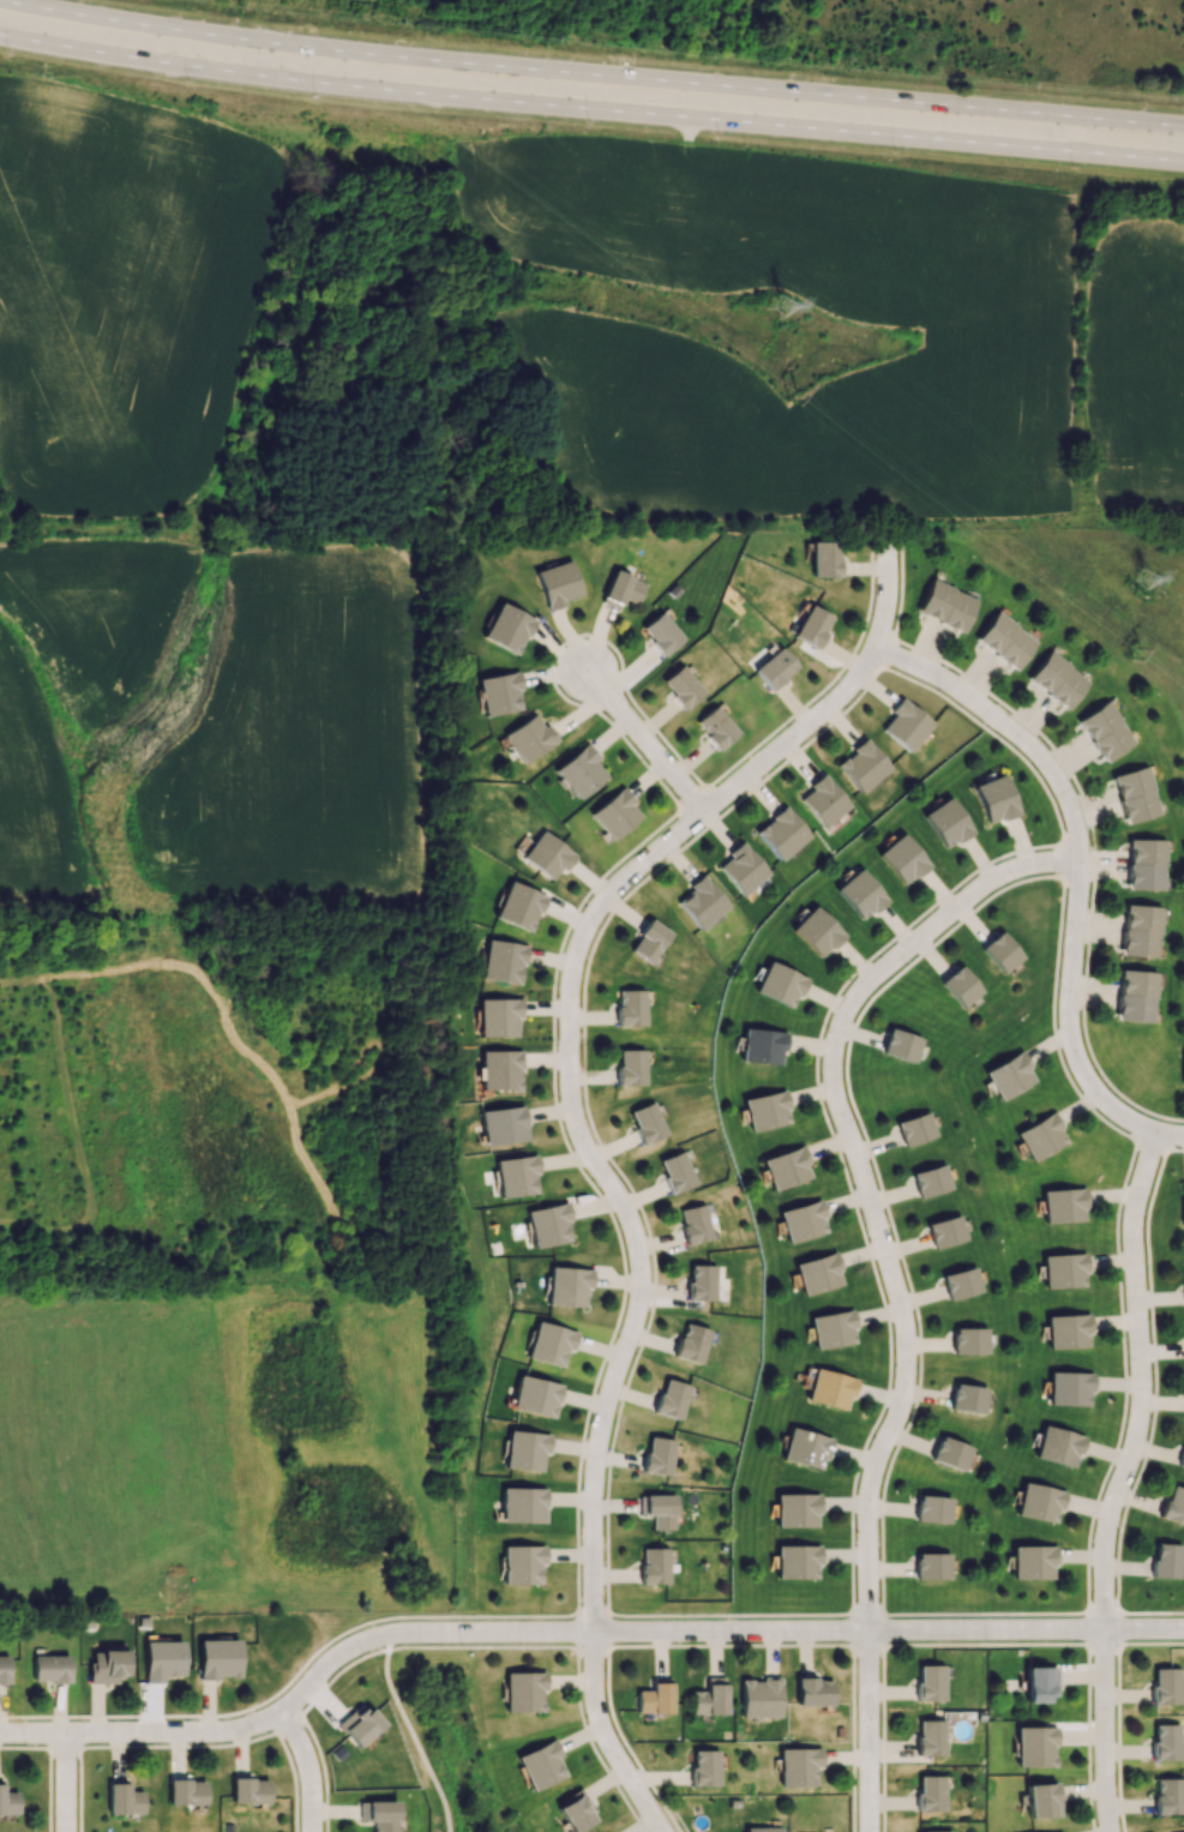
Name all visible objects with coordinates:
road: (590, 74)
road: (590, 108)
road: (686, 128)
crop: (124, 292)
power tower: (780, 305)
power tower: (792, 402)
building: (824, 559)
building: (557, 583)
power tower: (1142, 584)
building: (621, 589)
building: (946, 603)
building: (507, 626)
building: (811, 626)
building: (661, 633)
building: (1005, 639)
power tower: (1131, 660)
building: (774, 667)
building: (1060, 680)
building: (681, 686)
building: (498, 692)
crop: (209, 719)
building: (906, 725)
building: (714, 727)
building: (1107, 731)
building: (528, 738)
road: (644, 738)
building: (861, 767)
building: (578, 770)
building: (1136, 794)
building: (821, 800)
building: (994, 800)
road: (1087, 811)
building: (614, 812)
road: (719, 817)
building: (946, 823)
building: (781, 834)
building: (547, 853)
building: (902, 857)
building: (1148, 863)
building: (741, 867)
building: (859, 891)
building: (702, 901)
building: (518, 905)
building: (816, 929)
building: (1141, 931)
building: (649, 938)
building: (1000, 951)
building: (501, 960)
building: (780, 983)
building: (960, 985)
building: (1135, 996)
building: (631, 1008)
building: (498, 1015)
building: (761, 1045)
building: (901, 1045)
road: (848, 1046)
building: (630, 1067)
building: (1180, 1067)
building: (500, 1069)
building: (1008, 1075)
building: (765, 1109)
road: (558, 1121)
building: (647, 1122)
building: (503, 1124)
building: (915, 1128)
road: (1168, 1134)
building: (1039, 1135)
road: (583, 1136)
road: (1150, 1145)
road: (1174, 1148)
building: (785, 1166)
road: (1142, 1171)
building: (677, 1172)
building: (515, 1176)
building: (931, 1181)
building: (1063, 1205)
building: (1182, 1205)
building: (800, 1220)
building: (548, 1224)
building: (696, 1224)
building: (945, 1231)
building: (1063, 1271)
road: (888, 1272)
building: (816, 1273)
building: (1183, 1273)
building: (702, 1283)
building: (961, 1283)
building: (567, 1285)
building: (830, 1329)
building: (1068, 1329)
building: (969, 1339)
building: (549, 1343)
building: (692, 1344)
road: (887, 1353)
building: (1069, 1387)
building: (829, 1389)
building: (536, 1396)
building: (967, 1398)
building: (672, 1399)
road: (1153, 1413)
building: (1058, 1444)
building: (805, 1448)
building: (525, 1449)
building: (950, 1453)
building: (659, 1458)
building: (1182, 1459)
road: (1104, 1478)
building: (1039, 1502)
building: (522, 1504)
building: (1174, 1507)
building: (932, 1509)
building: (659, 1510)
building: (797, 1510)
building: (1166, 1561)
building: (1032, 1562)
building: (522, 1563)
building: (795, 1563)
building: (932, 1566)
building: (654, 1567)
road: (1102, 1611)
road: (867, 1612)
road: (591, 1614)
road: (731, 1614)
road: (1117, 1627)
road: (607, 1628)
road: (882, 1628)
road: (1088, 1628)
road: (577, 1629)
road: (853, 1629)
road: (576, 1633)
road: (1102, 1642)
road: (1150, 1642)
road: (593, 1644)
road: (731, 1644)
road: (867, 1644)
road: (1078, 1644)
road: (528, 1645)
building: (218, 1658)
building: (162, 1659)
building: (106, 1665)
building: (50, 1669)
building: (2, 1670)
building: (928, 1681)
building: (1040, 1681)
building: (1165, 1684)
building: (523, 1689)
building: (812, 1690)
building: (709, 1696)
building: (761, 1696)
building: (654, 1698)
building: (357, 1723)
road: (287, 1724)
road: (48, 1731)
road: (410, 1734)
road: (883, 1737)
building: (928, 1737)
road: (1118, 1737)
park: (444, 1738)
road: (853, 1738)
building: (1166, 1741)
road: (626, 1743)
road: (188, 1744)
building: (1034, 1744)
road: (65, 1747)
building: (540, 1764)
road: (49, 1765)
building: (705, 1766)
building: (799, 1766)
road: (307, 1767)
road: (323, 1770)
road: (66, 1782)
building: (185, 1791)
building: (248, 1791)
building: (928, 1792)
building: (1168, 1795)
building: (121, 1798)
building: (1040, 1798)
building: (7, 1802)
building: (575, 1809)
building: (378, 1814)
building: (763, 1828)
building: (930, 1831)
building: (1057, 1831)

